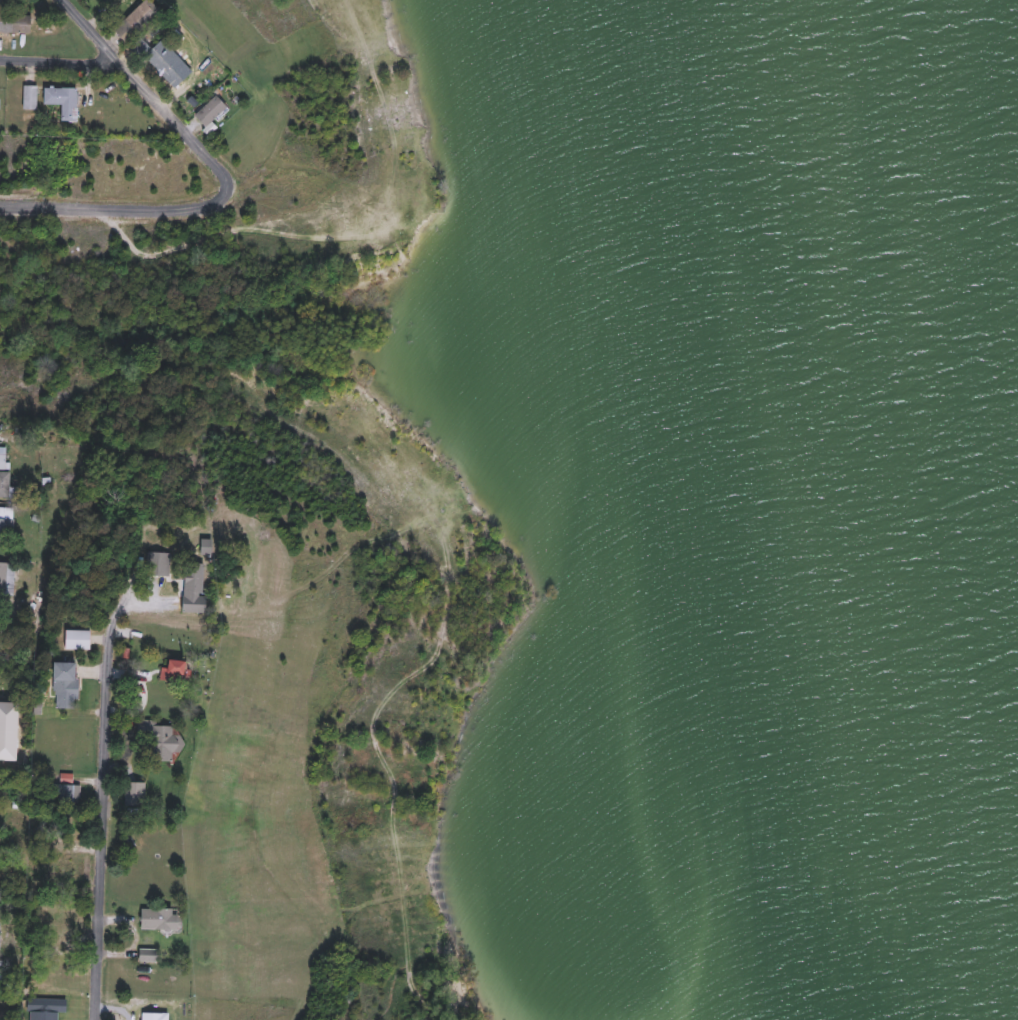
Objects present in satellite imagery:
building: (137, 21)
building: (15, 22)
building: (159, 57)
road: (61, 65)
road: (148, 91)
building: (29, 97)
building: (63, 101)
building: (211, 111)
road: (118, 207)
road: (2, 428)
building: (4, 471)
building: (4, 530)
building: (193, 577)
building: (3, 578)
building: (176, 607)
building: (176, 671)
building: (65, 685)
road: (103, 729)
building: (157, 740)
building: (134, 794)
building: (66, 795)
building: (16, 817)
building: (57, 870)
building: (160, 919)
building: (0, 936)
building: (147, 955)

